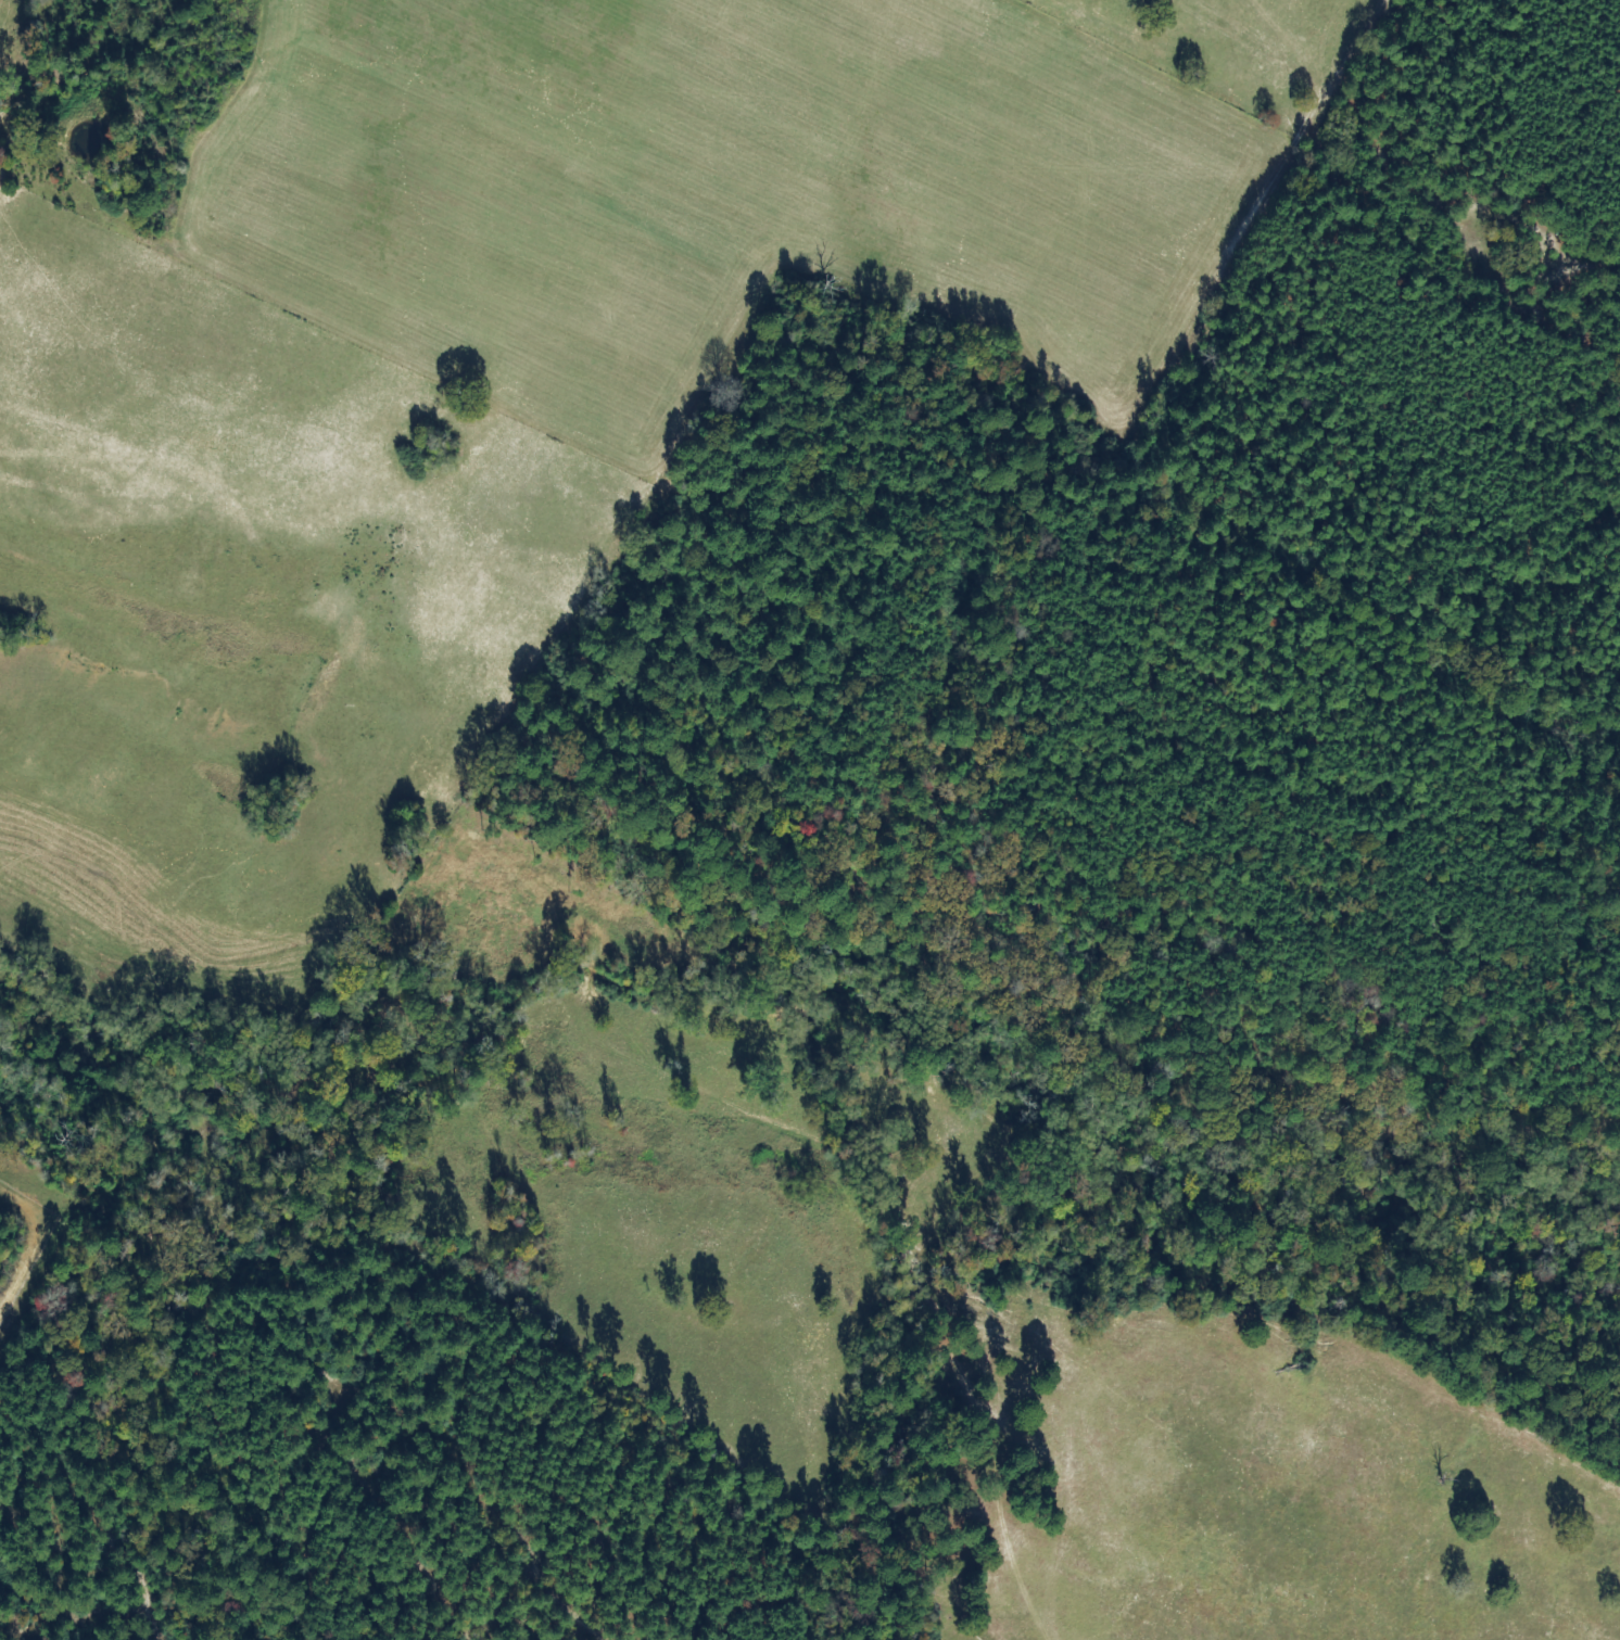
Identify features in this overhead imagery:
road: (1354, 143)

